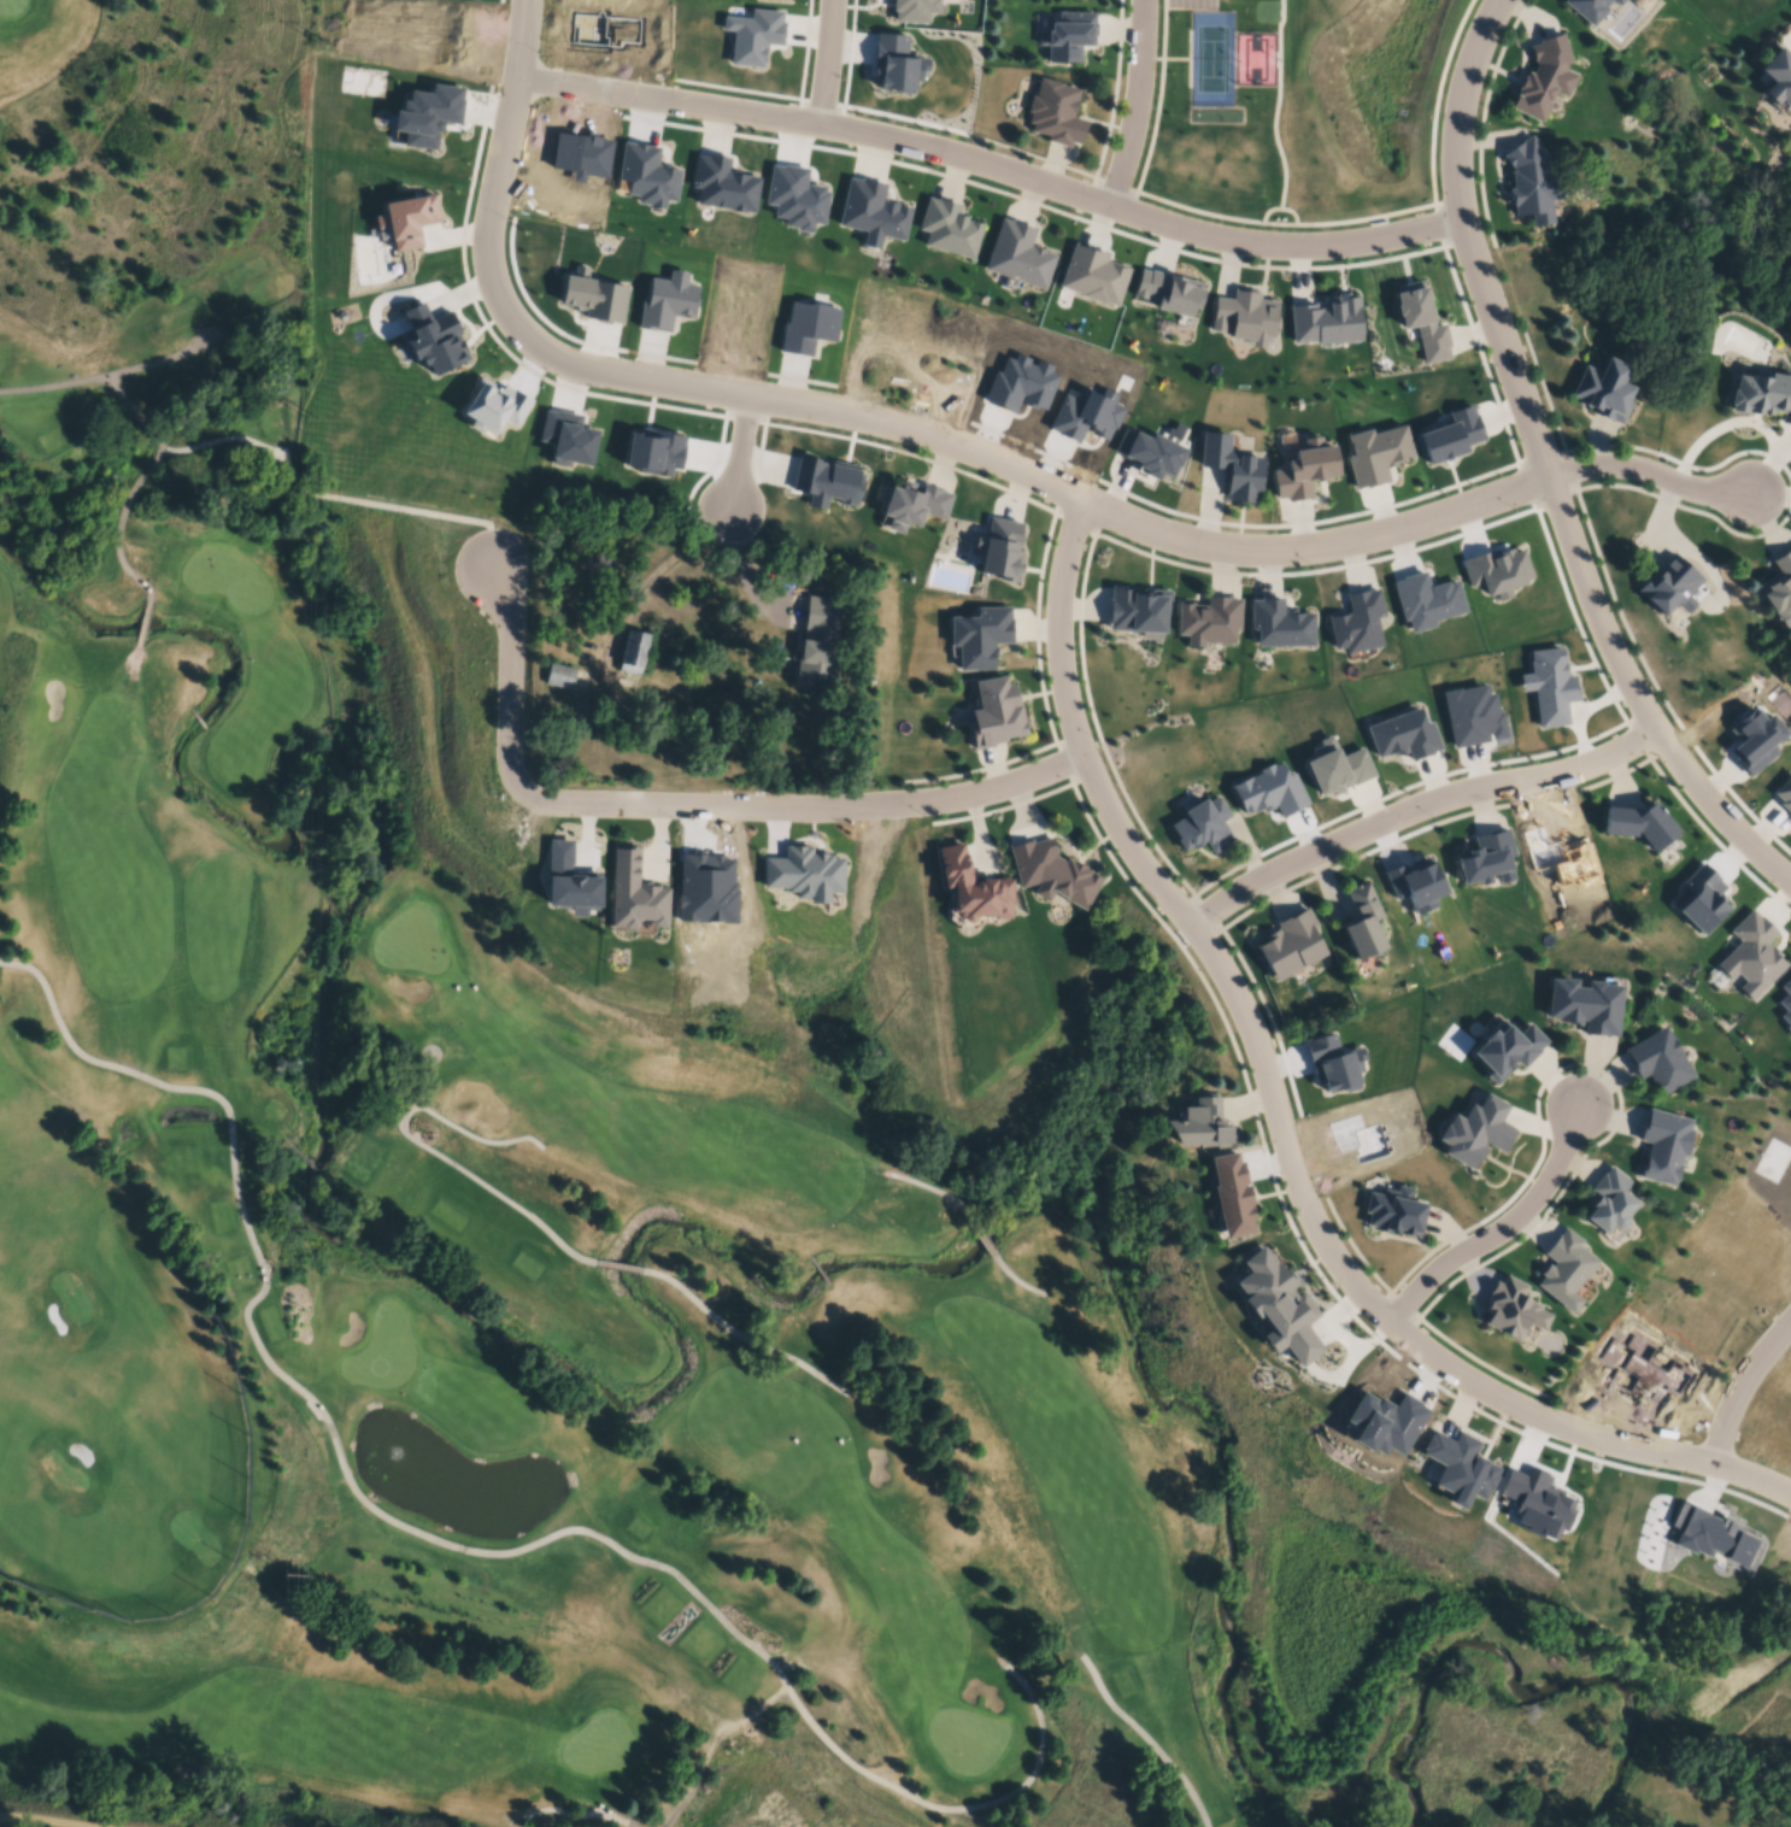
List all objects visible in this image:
building: (1616, 1)
park: (10, 7)
building: (1587, 7)
building: (915, 11)
building: (601, 30)
building: (753, 37)
building: (1067, 37)
building: (436, 43)
power tower: (322, 45)
road: (827, 61)
building: (895, 67)
building: (1543, 74)
road: (1140, 106)
building: (1056, 114)
building: (425, 118)
building: (581, 157)
road: (990, 169)
building: (646, 178)
building: (1531, 178)
building: (726, 187)
building: (795, 200)
building: (873, 208)
building: (407, 215)
building: (949, 224)
building: (1018, 251)
building: (1093, 272)
building: (1169, 287)
building: (597, 294)
building: (668, 298)
building: (741, 309)
building: (1245, 313)
building: (1328, 317)
building: (1423, 318)
building: (806, 324)
building: (434, 336)
building: (1018, 381)
building: (1603, 386)
building: (1762, 392)
building: (494, 403)
building: (1086, 412)
power tower: (313, 421)
road: (876, 425)
building: (1451, 433)
building: (568, 434)
building: (656, 448)
building: (1155, 448)
building: (1378, 452)
road: (740, 463)
building: (1233, 463)
road: (1545, 465)
building: (1305, 468)
road: (1652, 472)
building: (827, 480)
building: (911, 500)
building: (1000, 546)
building: (1497, 569)
park: (227, 578)
building: (1668, 583)
building: (1779, 586)
building: (1427, 598)
building: (1138, 609)
building: (1210, 618)
building: (1358, 619)
building: (816, 622)
building: (1281, 622)
building: (980, 634)
building: (808, 666)
building: (551, 683)
building: (1550, 683)
building: (996, 710)
building: (1474, 712)
building: (1405, 734)
building: (1755, 739)
building: (1337, 765)
building: (1270, 789)
building: (1784, 792)
road: (1415, 807)
road: (687, 812)
building: (1638, 822)
building: (1203, 824)
power tower: (305, 834)
building: (1486, 856)
building: (1561, 856)
building: (803, 871)
building: (1052, 871)
building: (571, 880)
building: (1416, 883)
building: (973, 886)
building: (707, 887)
building: (636, 891)
building: (1699, 898)
building: (1364, 921)
park: (409, 942)
building: (1292, 942)
building: (1751, 953)
building: (1786, 1003)
building: (1585, 1004)
building: (1504, 1048)
building: (1656, 1061)
building: (1335, 1063)
road: (1276, 1120)
building: (1203, 1122)
building: (1474, 1132)
building: (1358, 1136)
building: (1663, 1144)
park: (462, 1188)
building: (1233, 1194)
building: (1609, 1202)
building: (1396, 1211)
road: (1502, 1227)
power tower: (298, 1230)
building: (1755, 1251)
building: (1564, 1269)
park: (70, 1296)
building: (1280, 1308)
building: (1510, 1310)
park: (380, 1353)
building: (1643, 1368)
road: (1743, 1399)
building: (1381, 1423)
building: (1785, 1424)
building: (1456, 1467)
park: (63, 1476)
building: (1535, 1504)
building: (1713, 1538)
power tower: (292, 1578)
park: (965, 1743)
park: (607, 1751)
road: (61, 1820)

